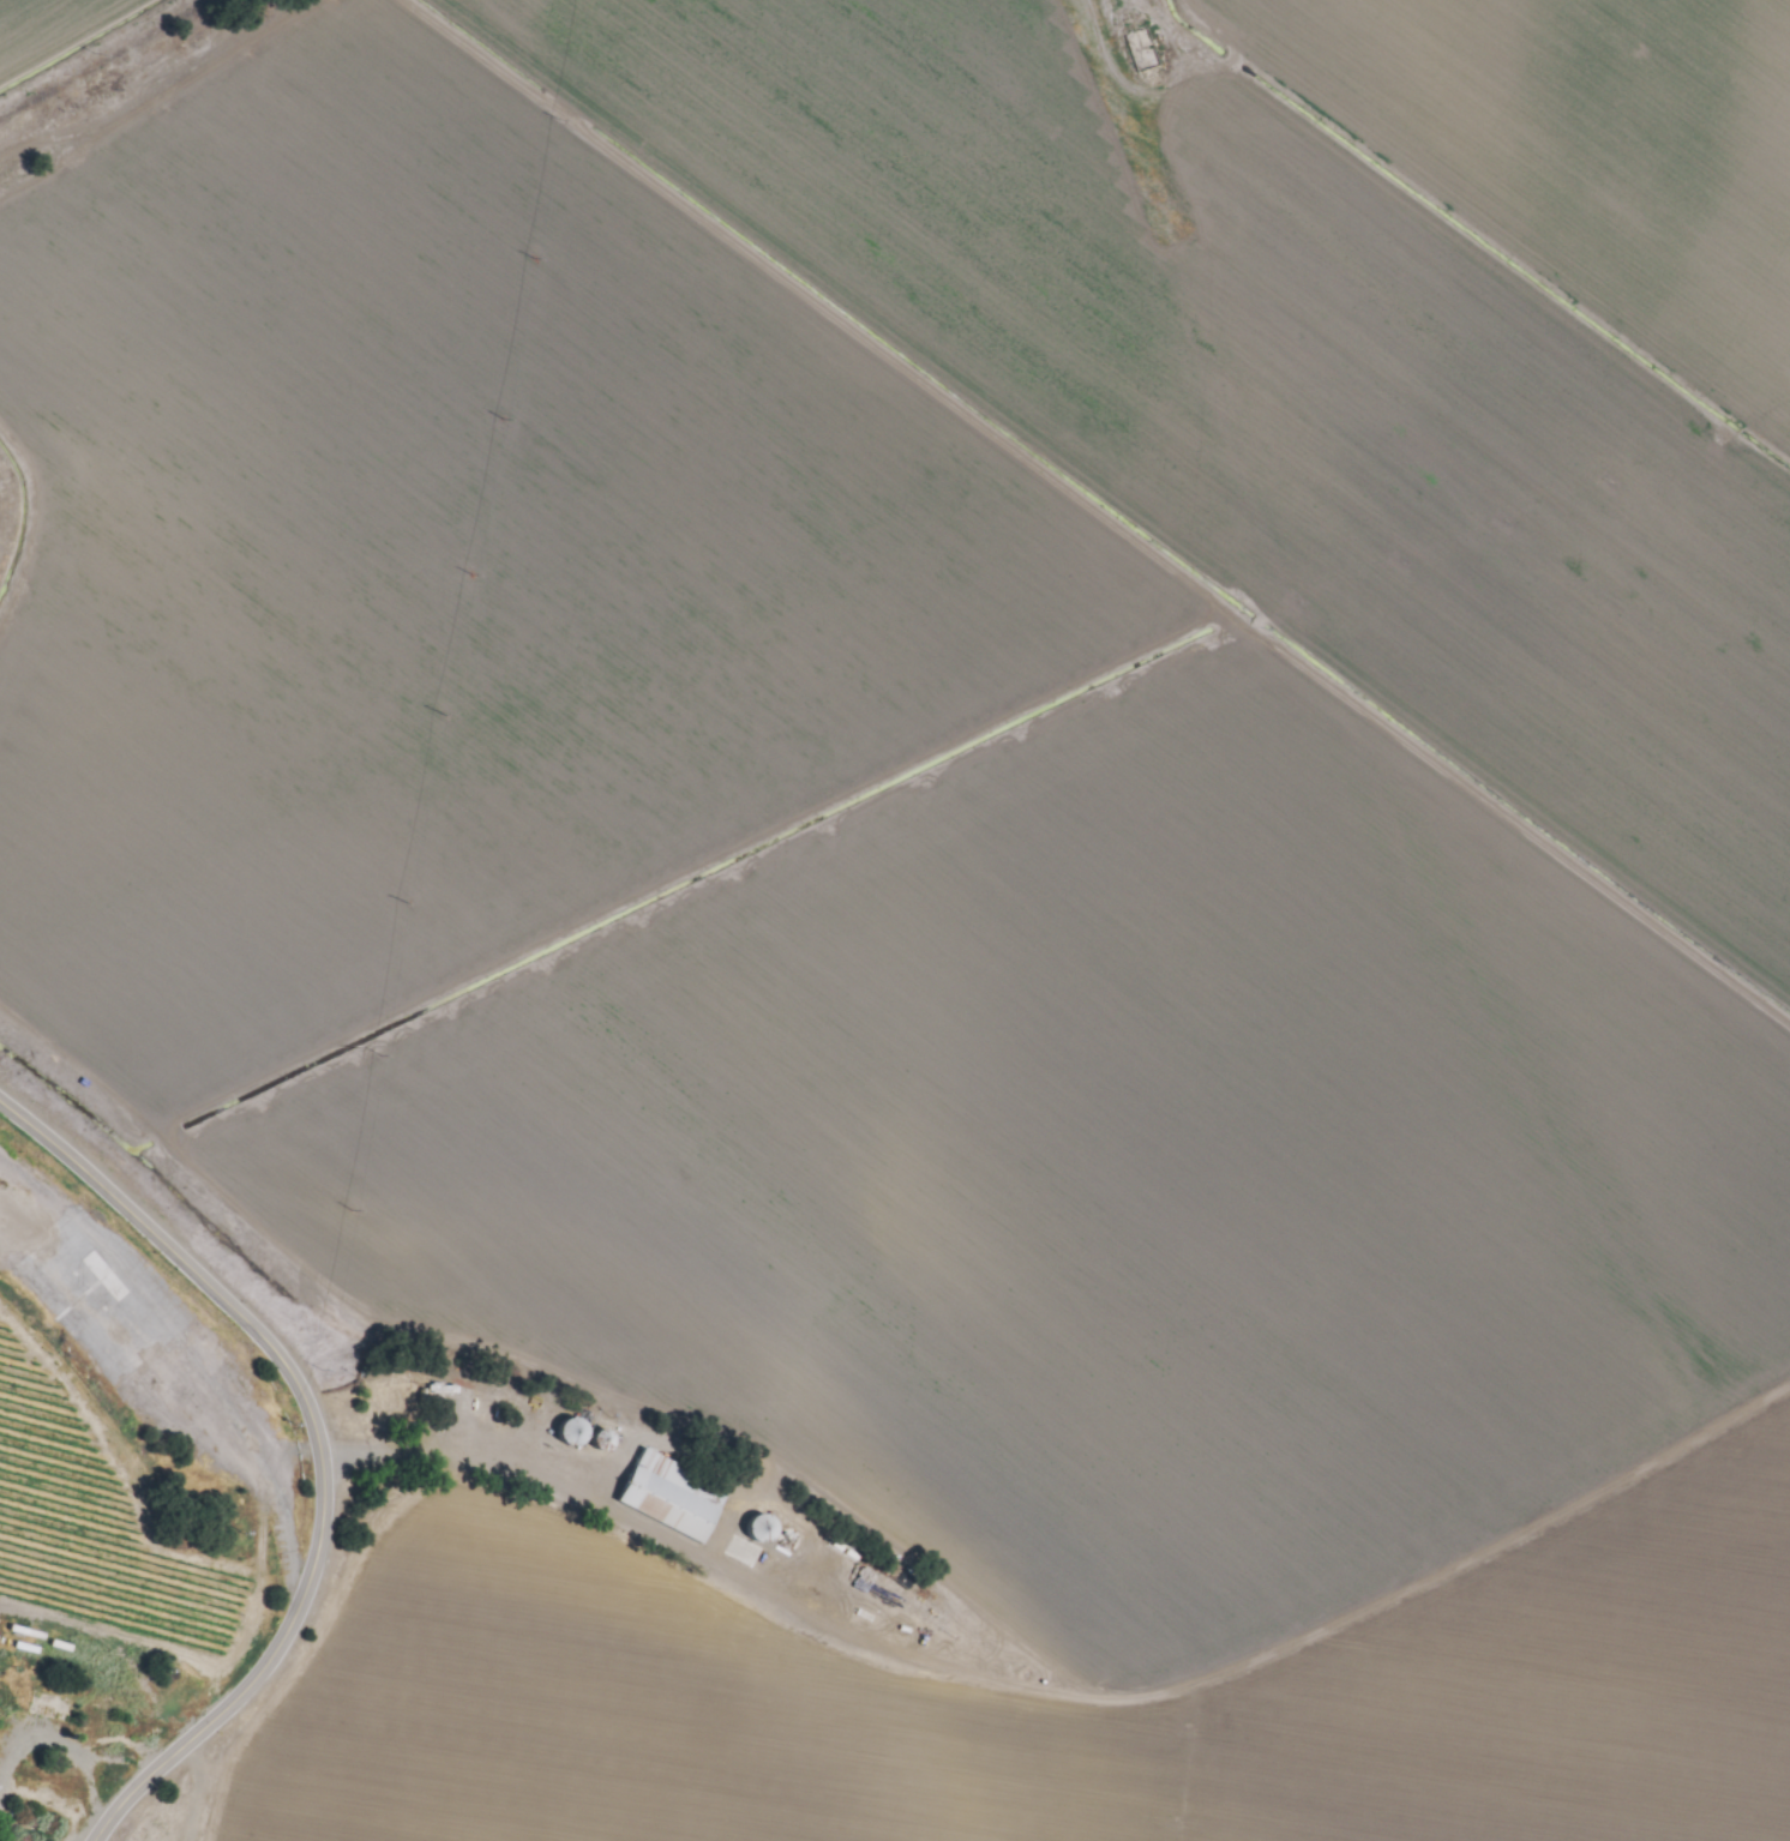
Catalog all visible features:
road: (1193, 28)
road: (152, 97)
crop: (957, 865)
road: (318, 1446)
crop: (106, 1487)
building: (671, 1497)

